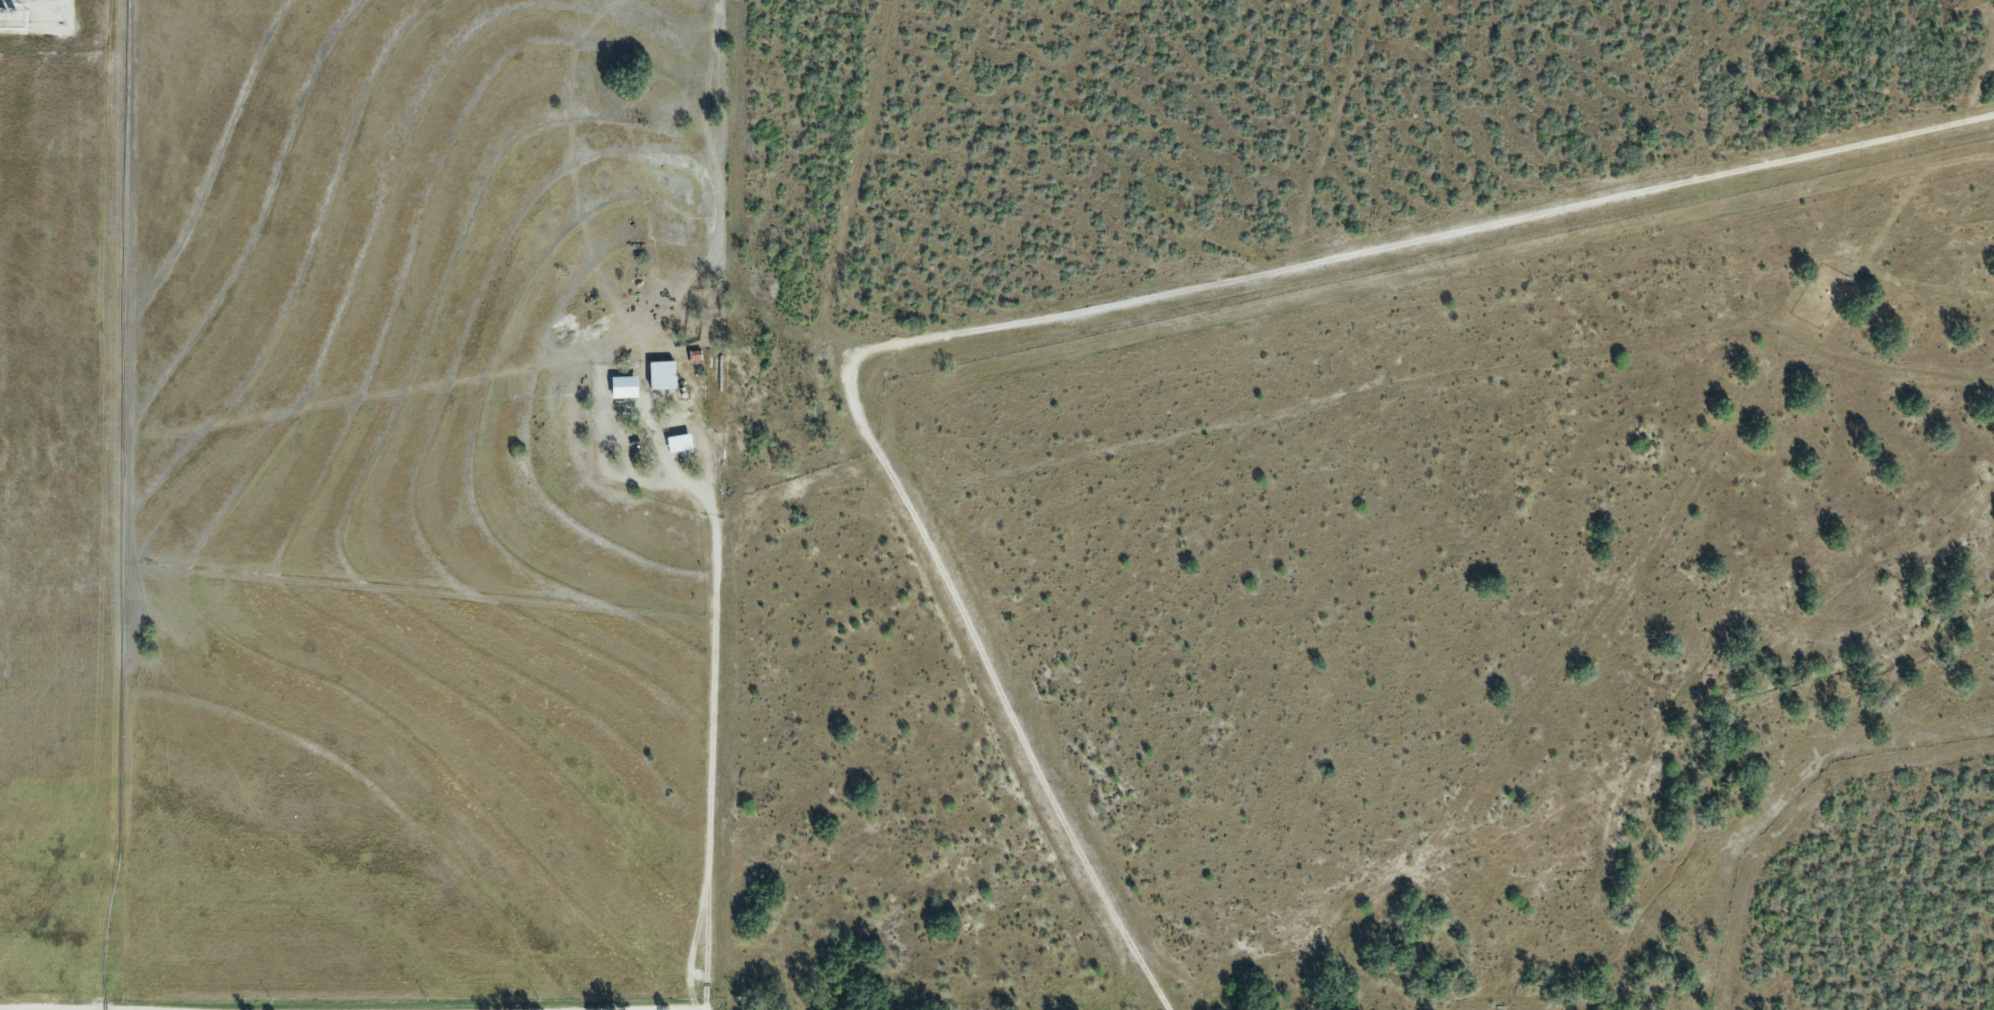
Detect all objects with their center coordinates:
road: (1064, 310)
building: (659, 374)
road: (715, 765)

